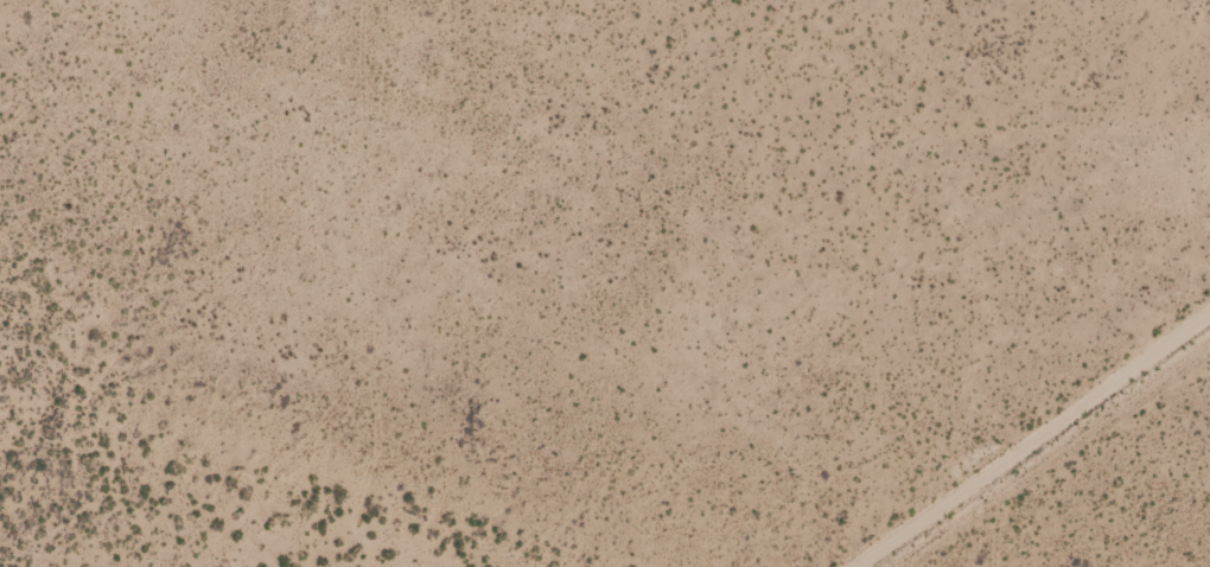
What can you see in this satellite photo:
power tower: (969, 389)
road: (1006, 421)

